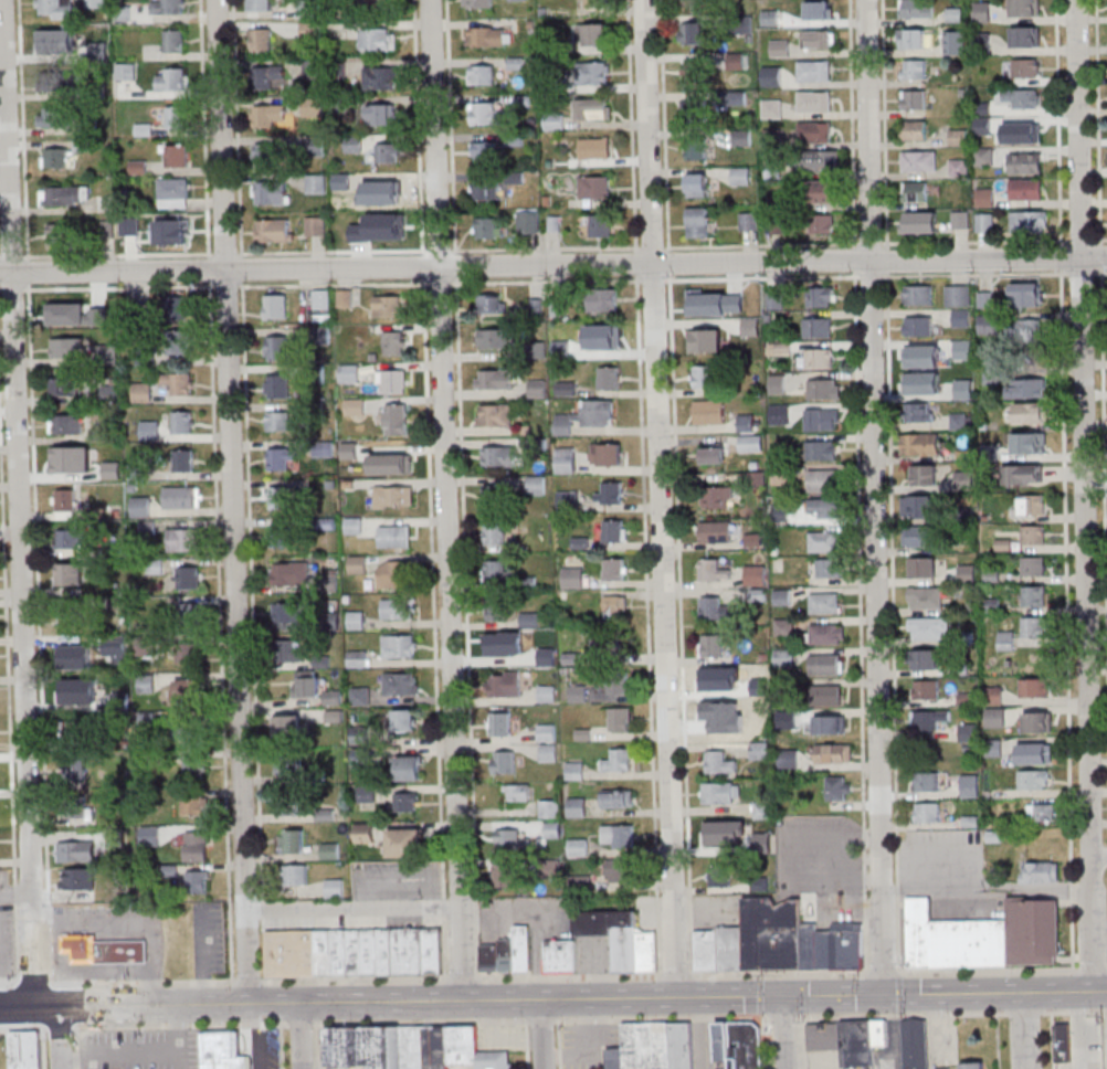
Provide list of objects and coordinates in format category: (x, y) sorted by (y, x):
building: (690, 2)
building: (96, 3)
building: (477, 3)
building: (594, 3)
building: (261, 6)
building: (168, 7)
building: (54, 8)
building: (1024, 8)
building: (819, 9)
building: (916, 9)
building: (983, 11)
building: (953, 14)
building: (693, 33)
building: (593, 34)
building: (486, 35)
building: (1024, 36)
building: (819, 38)
building: (913, 38)
building: (173, 40)
building: (260, 40)
building: (379, 40)
building: (982, 40)
building: (948, 45)
building: (780, 46)
building: (1026, 67)
building: (914, 68)
building: (126, 71)
building: (814, 71)
building: (693, 72)
building: (597, 73)
building: (481, 74)
building: (265, 77)
building: (170, 78)
building: (380, 80)
building: (57, 82)
building: (914, 98)
building: (1019, 98)
building: (814, 100)
building: (313, 107)
building: (593, 108)
building: (772, 108)
building: (695, 109)
building: (487, 113)
building: (267, 115)
building: (380, 115)
building: (54, 116)
building: (176, 117)
road: (1097, 121)
road: (418, 124)
road: (1058, 124)
road: (450, 125)
building: (985, 126)
road: (203, 127)
road: (236, 127)
road: (23, 129)
building: (915, 129)
building: (815, 130)
building: (958, 136)
building: (352, 144)
building: (594, 148)
building: (696, 148)
building: (484, 150)
building: (388, 152)
building: (178, 155)
building: (270, 155)
building: (983, 156)
building: (56, 157)
building: (822, 160)
building: (919, 160)
building: (1025, 162)
building: (959, 167)
road: (885, 173)
building: (740, 176)
building: (316, 183)
building: (697, 186)
building: (594, 188)
road: (853, 188)
building: (485, 189)
building: (1025, 189)
building: (389, 191)
building: (823, 191)
building: (915, 191)
building: (173, 192)
building: (272, 193)
building: (64, 194)
building: (984, 197)
building: (697, 219)
building: (960, 219)
building: (528, 221)
building: (749, 221)
building: (1029, 221)
building: (921, 222)
building: (984, 222)
building: (822, 223)
building: (315, 225)
building: (600, 226)
building: (488, 227)
building: (274, 230)
building: (386, 230)
building: (177, 231)
building: (63, 233)
road: (1099, 239)
road: (1079, 240)
road: (974, 241)
road: (869, 244)
road: (760, 245)
road: (440, 253)
road: (118, 254)
road: (1100, 255)
road: (12, 256)
road: (1061, 257)
road: (552, 264)
road: (425, 265)
road: (1082, 273)
road: (1100, 273)
road: (1064, 274)
road: (758, 279)
building: (918, 294)
building: (958, 295)
building: (1031, 295)
building: (821, 297)
building: (603, 299)
building: (776, 299)
building: (985, 299)
building: (495, 305)
building: (275, 306)
building: (388, 306)
building: (177, 308)
building: (555, 308)
building: (704, 316)
building: (961, 317)
building: (989, 324)
building: (918, 325)
building: (818, 327)
building: (1025, 330)
building: (608, 339)
building: (496, 340)
building: (393, 342)
building: (176, 343)
building: (67, 347)
building: (278, 347)
building: (957, 349)
building: (146, 353)
building: (921, 356)
building: (819, 358)
building: (349, 372)
building: (704, 375)
building: (609, 378)
building: (495, 379)
building: (398, 381)
building: (179, 382)
building: (922, 382)
building: (778, 384)
building: (64, 385)
building: (278, 385)
building: (537, 388)
building: (567, 388)
building: (824, 388)
building: (1026, 388)
building: (141, 392)
building: (355, 406)
building: (709, 411)
building: (921, 412)
building: (1033, 413)
building: (496, 414)
building: (779, 414)
building: (587, 415)
building: (397, 419)
building: (823, 419)
building: (278, 420)
building: (961, 420)
building: (182, 421)
building: (746, 422)
building: (66, 424)
building: (150, 430)
building: (751, 443)
building: (921, 444)
building: (1034, 444)
building: (349, 449)
building: (822, 449)
road: (1104, 449)
building: (607, 454)
building: (499, 456)
building: (282, 457)
building: (711, 457)
building: (183, 459)
building: (566, 459)
building: (65, 463)
building: (389, 464)
building: (113, 469)
building: (924, 474)
building: (1024, 474)
building: (781, 477)
building: (758, 478)
building: (964, 479)
building: (823, 480)
building: (610, 493)
road: (1085, 495)
building: (393, 496)
building: (181, 497)
building: (716, 497)
road: (873, 497)
building: (281, 498)
building: (65, 499)
building: (568, 499)
road: (661, 499)
road: (446, 500)
road: (233, 501)
road: (19, 502)
building: (1033, 505)
building: (141, 506)
building: (919, 506)
building: (826, 508)
building: (354, 525)
building: (615, 530)
building: (716, 532)
building: (494, 533)
building: (282, 536)
building: (394, 536)
building: (919, 536)
building: (1033, 537)
building: (68, 538)
building: (182, 539)
building: (824, 540)
building: (358, 565)
building: (1033, 567)
building: (830, 568)
building: (924, 568)
building: (615, 569)
building: (714, 571)
building: (497, 572)
building: (72, 573)
building: (291, 573)
building: (396, 573)
building: (967, 573)
building: (756, 574)
building: (573, 578)
building: (188, 579)
building: (1034, 596)
building: (926, 599)
building: (825, 603)
building: (615, 607)
building: (398, 608)
building: (716, 608)
building: (498, 610)
building: (72, 614)
building: (187, 614)
building: (289, 615)
building: (356, 618)
building: (530, 618)
road: (1066, 618)
road: (434, 628)
building: (1035, 628)
building: (928, 631)
building: (827, 633)
building: (1006, 641)
building: (401, 645)
building: (711, 645)
building: (498, 647)
building: (148, 649)
building: (288, 650)
building: (188, 652)
building: (73, 653)
building: (360, 658)
building: (926, 660)
building: (826, 664)
building: (307, 682)
building: (620, 682)
building: (147, 684)
building: (401, 684)
building: (505, 684)
building: (715, 685)
building: (1035, 687)
building: (927, 689)
building: (186, 690)
building: (578, 692)
building: (70, 694)
building: (547, 694)
building: (827, 694)
building: (994, 695)
building: (360, 696)
building: (719, 716)
building: (997, 717)
building: (620, 719)
building: (405, 720)
building: (930, 720)
building: (1036, 721)
building: (289, 723)
building: (500, 724)
building: (830, 724)
building: (182, 728)
building: (969, 732)
building: (548, 741)
building: (760, 750)
building: (835, 753)
building: (1034, 753)
building: (620, 760)
building: (505, 762)
building: (719, 762)
building: (196, 763)
building: (292, 765)
building: (410, 768)
building: (76, 769)
building: (1034, 779)
building: (928, 781)
building: (970, 785)
building: (839, 787)
building: (518, 792)
building: (367, 793)
building: (721, 793)
building: (618, 797)
building: (407, 802)
building: (293, 804)
building: (196, 805)
building: (577, 806)
building: (76, 808)
building: (1043, 811)
building: (927, 812)
building: (326, 814)
building: (147, 833)
building: (365, 833)
building: (619, 835)
building: (512, 839)
building: (719, 839)
building: (293, 840)
building: (405, 842)
building: (199, 846)
building: (579, 847)
building: (76, 850)
building: (330, 850)
road: (920, 854)
road: (1099, 854)
road: (832, 856)
road: (784, 860)
building: (556, 867)
building: (620, 870)
building: (1040, 872)
building: (296, 875)
building: (506, 876)
building: (720, 876)
building: (78, 879)
building: (199, 881)
road: (400, 882)
building: (760, 883)
road: (850, 883)
building: (334, 887)
road: (985, 890)
road: (15, 897)
road: (569, 907)
road: (355, 910)
road: (133, 922)
building: (1029, 933)
building: (917, 934)
building: (776, 935)
building: (613, 936)
parking lot: (209, 938)
building: (811, 945)
building: (966, 946)
building: (524, 949)
building: (83, 950)
building: (735, 950)
building: (841, 950)
building: (711, 951)
building: (124, 953)
building: (651, 953)
building: (295, 954)
building: (327, 954)
building: (342, 954)
building: (358, 954)
building: (372, 954)
building: (388, 954)
building: (411, 954)
building: (433, 954)
building: (509, 955)
building: (562, 955)
road: (201, 956)
building: (493, 957)
road: (1093, 969)
road: (538, 976)
traffic signals: (883, 995)
traffic signals: (783, 996)
road: (643, 998)
road: (89, 1005)
road: (553, 1019)
road: (1024, 1030)
road: (784, 1031)
road: (542, 1034)
road: (260, 1035)
road: (302, 1035)
building: (882, 1035)
road: (180, 1036)
road: (62, 1037)
road: (77, 1038)
building: (827, 1038)
road: (998, 1040)
road: (1053, 1040)
building: (1066, 1040)
building: (724, 1042)
road: (767, 1042)
road: (806, 1042)
building: (916, 1042)
road: (527, 1044)
road: (559, 1044)
building: (861, 1045)
road: (282, 1046)
road: (324, 1046)
building: (649, 1046)
building: (683, 1046)
building: (747, 1046)
road: (45, 1048)
parking lot: (261, 1048)
building: (367, 1048)
building: (426, 1048)
building: (464, 1048)
building: (29, 1050)
building: (224, 1051)
road: (120, 1054)
road: (78, 1059)
building: (616, 1059)
building: (496, 1061)
building: (973, 1066)

